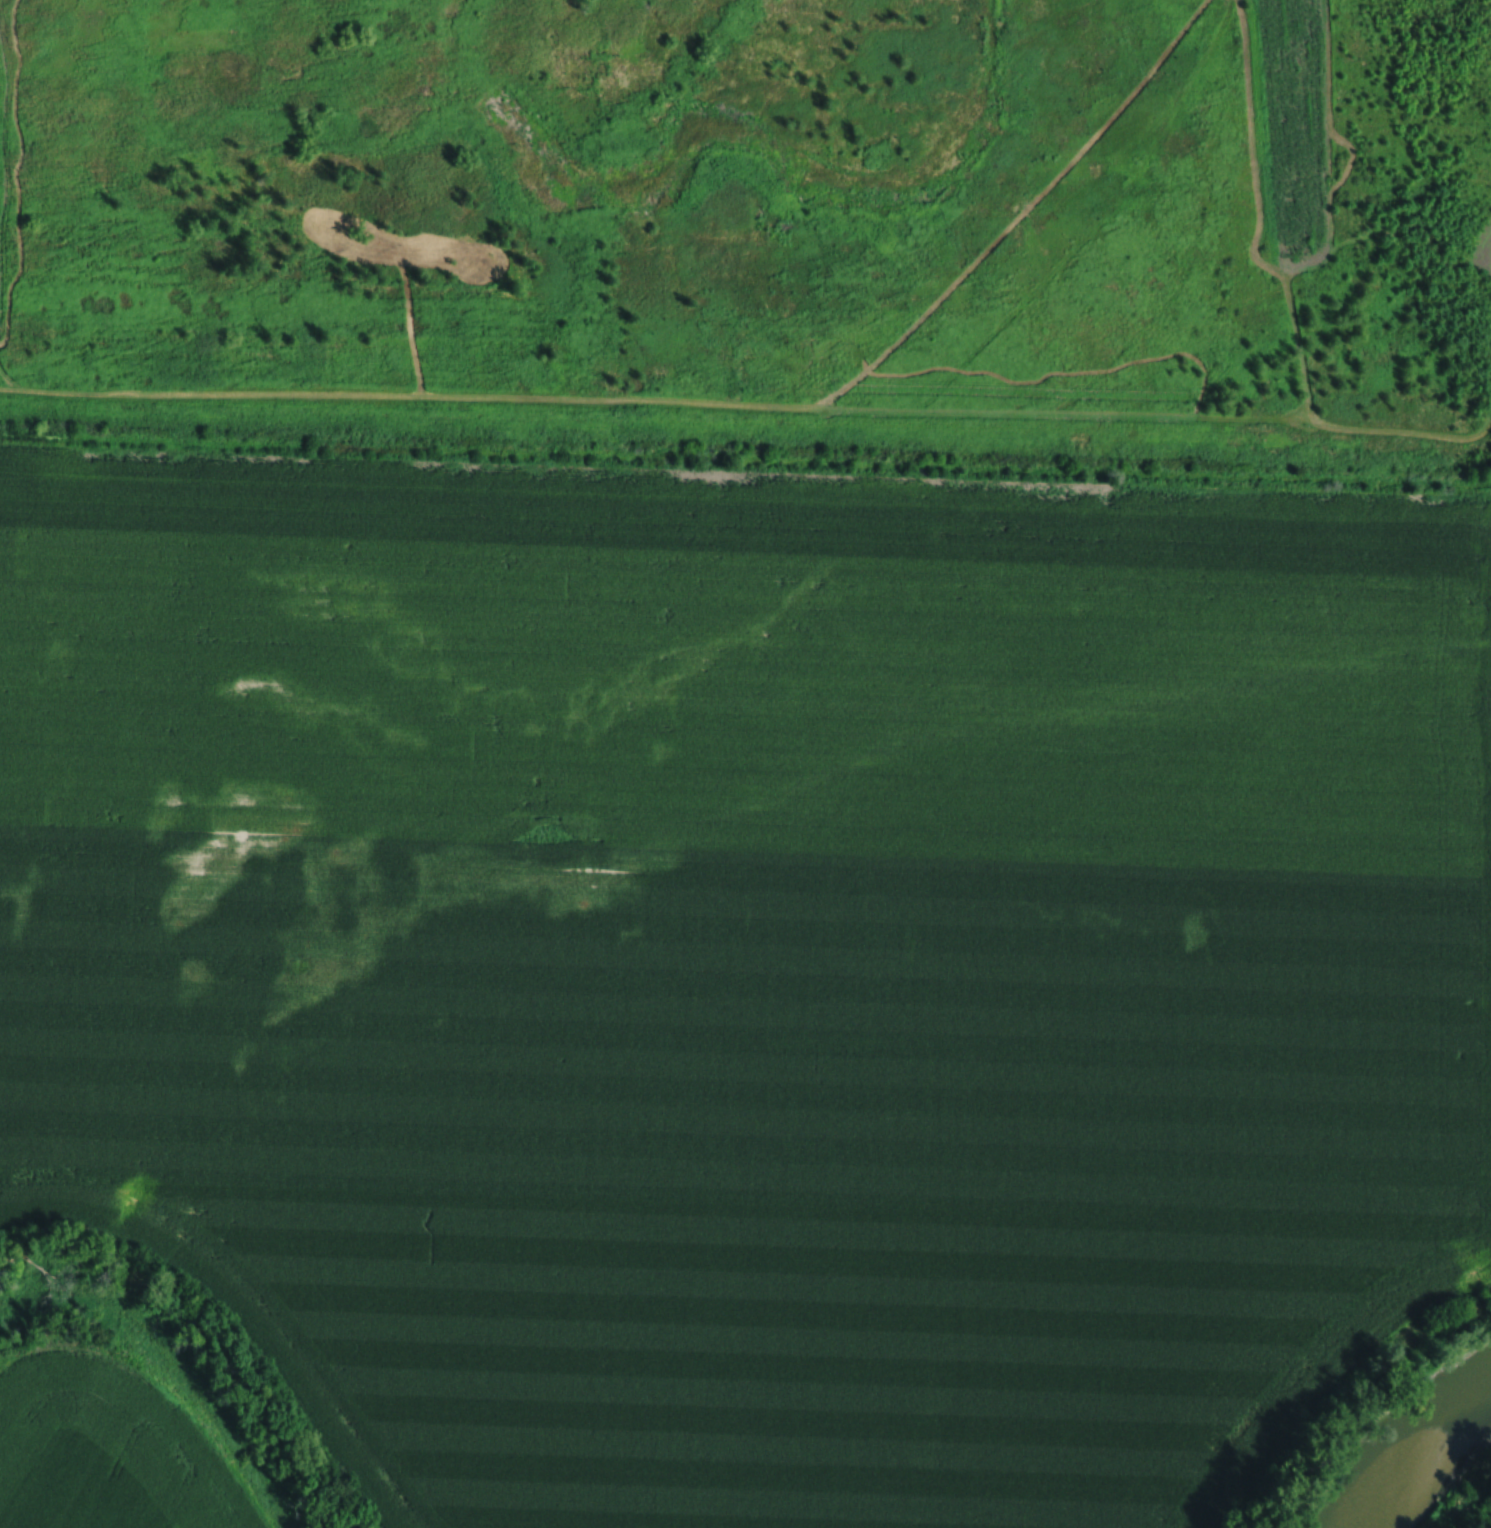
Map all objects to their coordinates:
river: (1414, 1459)

